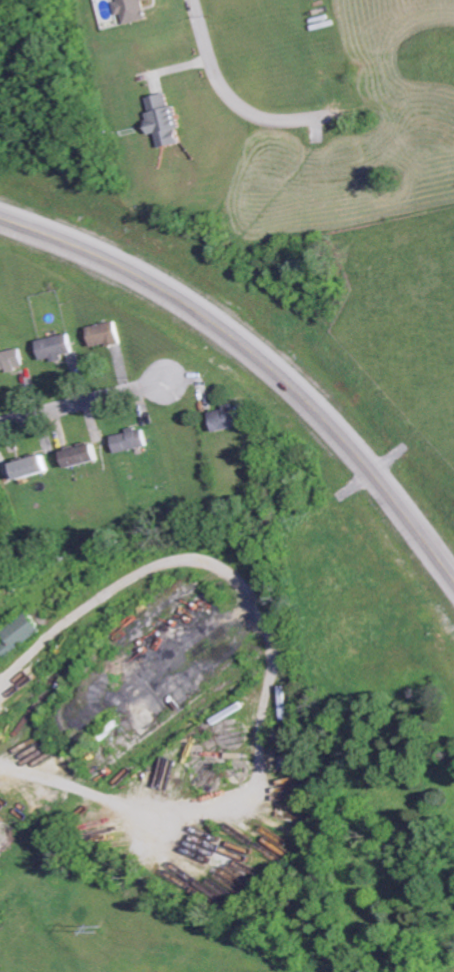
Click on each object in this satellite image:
building: (133, 10)
road: (230, 93)
building: (164, 121)
building: (104, 335)
building: (55, 348)
road: (260, 359)
building: (11, 360)
road: (81, 403)
building: (226, 419)
building: (130, 440)
building: (81, 456)
building: (30, 468)
building: (20, 635)
road: (29, 734)

